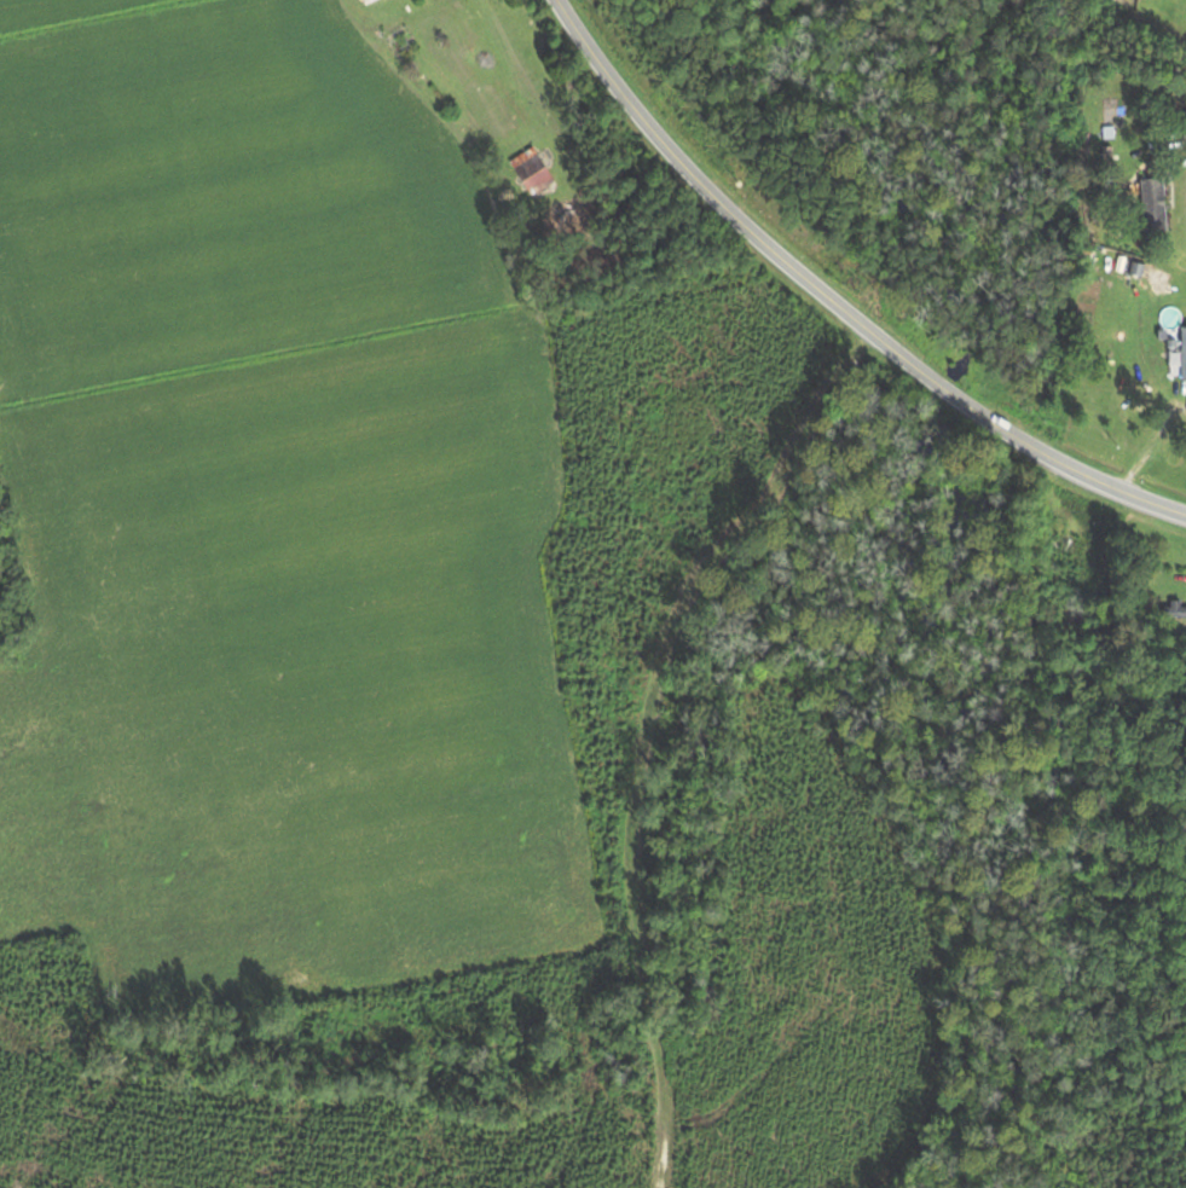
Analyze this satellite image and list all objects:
building: (1104, 124)
building: (528, 169)
building: (1150, 204)
road: (834, 302)
building: (1181, 353)
building: (1059, 551)
building: (1175, 610)
road: (659, 1102)

